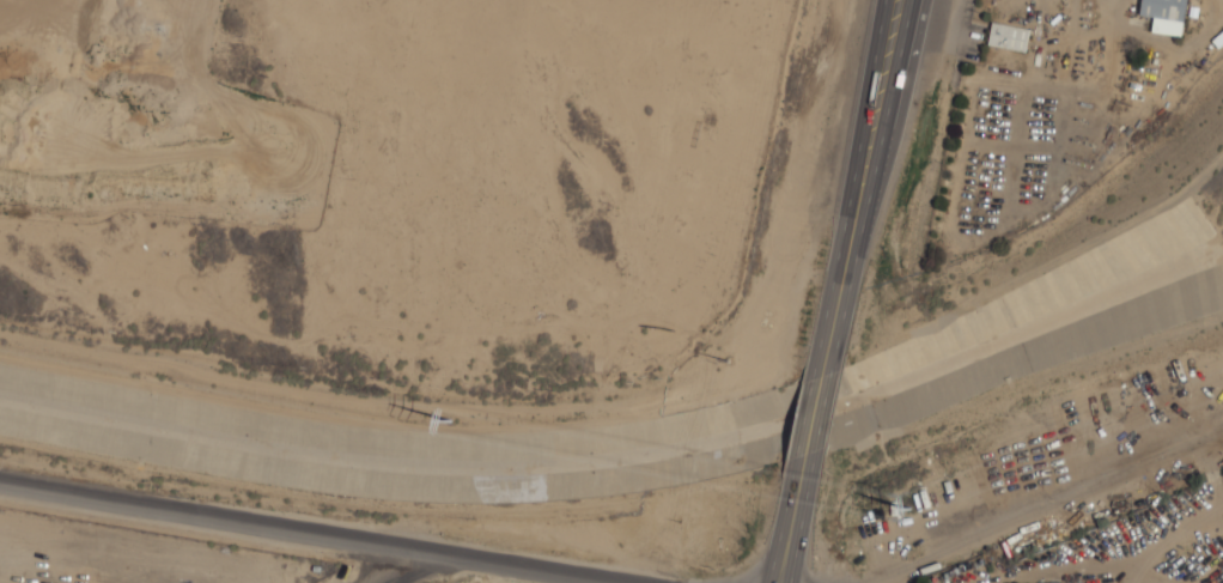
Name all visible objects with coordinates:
building: (1166, 14)
building: (1009, 37)
road: (874, 140)
power tower: (456, 421)
road: (813, 432)
road: (1045, 505)
power tower: (911, 508)
road: (324, 530)
road: (410, 566)

